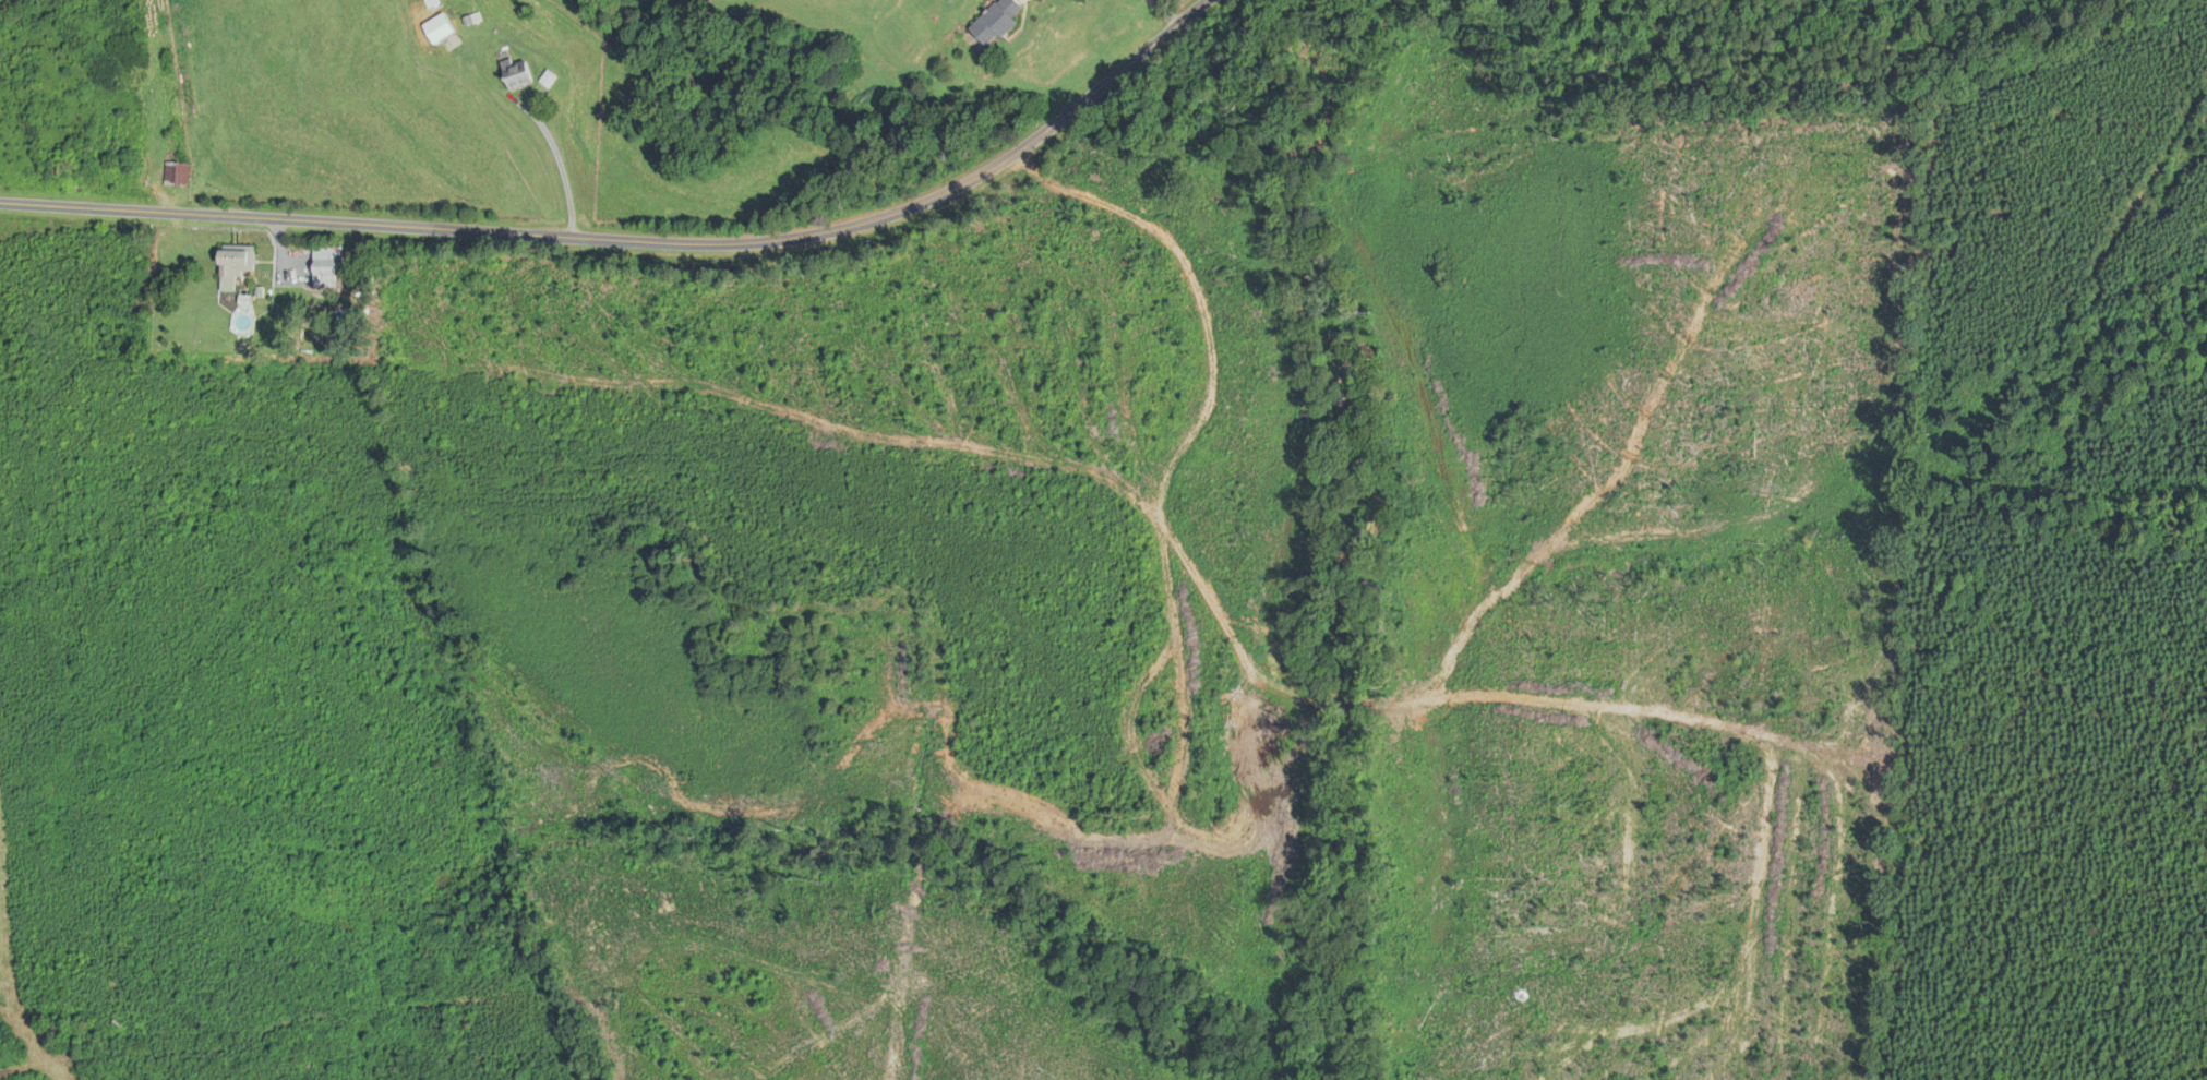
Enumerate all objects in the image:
road: (1162, 12)
building: (999, 21)
building: (518, 75)
building: (550, 79)
road: (560, 163)
building: (178, 173)
road: (637, 240)
building: (236, 265)
building: (326, 267)

